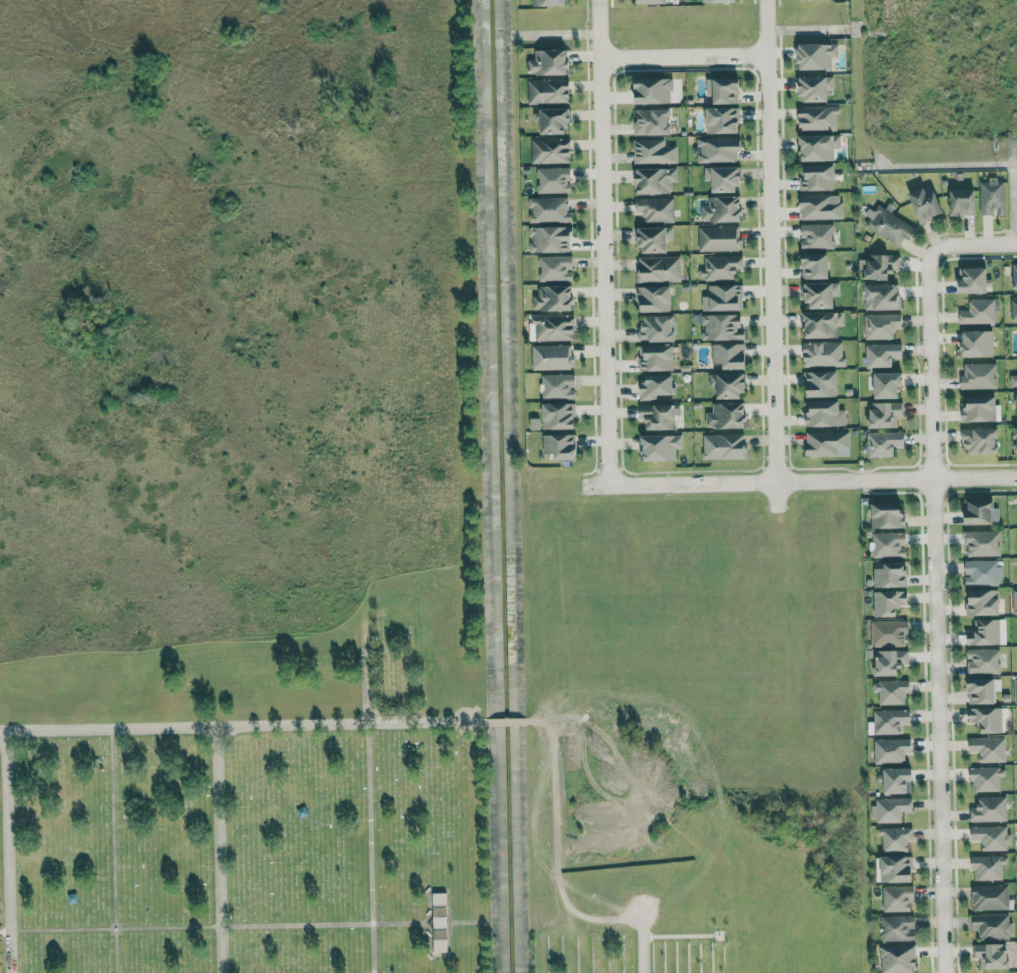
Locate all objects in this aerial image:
building: (718, 1)
building: (649, 2)
building: (549, 3)
building: (816, 56)
road: (682, 57)
building: (548, 63)
building: (815, 89)
building: (548, 91)
building: (652, 91)
building: (723, 91)
building: (818, 118)
building: (552, 121)
building: (722, 121)
building: (652, 122)
building: (818, 146)
building: (718, 149)
building: (550, 151)
building: (653, 152)
building: (816, 176)
building: (722, 177)
building: (553, 179)
building: (655, 179)
building: (992, 196)
building: (962, 201)
building: (925, 202)
building: (820, 206)
building: (722, 208)
building: (549, 209)
building: (655, 209)
building: (887, 224)
building: (817, 235)
building: (550, 238)
building: (654, 238)
building: (718, 238)
road: (976, 240)
road: (602, 242)
road: (770, 254)
building: (815, 264)
building: (879, 265)
building: (720, 266)
building: (555, 267)
building: (658, 268)
building: (1014, 275)
building: (974, 279)
building: (821, 294)
building: (882, 296)
building: (553, 297)
building: (654, 297)
building: (723, 297)
building: (1013, 309)
building: (978, 311)
building: (821, 323)
building: (881, 325)
building: (721, 326)
building: (552, 327)
building: (657, 327)
building: (977, 342)
building: (823, 353)
building: (728, 354)
building: (881, 354)
building: (551, 357)
building: (655, 357)
building: (978, 375)
building: (1013, 379)
building: (821, 382)
building: (887, 383)
building: (727, 384)
building: (557, 386)
building: (656, 386)
building: (1016, 404)
building: (979, 407)
building: (824, 413)
building: (884, 413)
building: (558, 415)
building: (726, 415)
building: (1016, 439)
building: (980, 440)
building: (827, 443)
building: (883, 443)
building: (560, 445)
building: (723, 445)
building: (661, 446)
road: (800, 480)
building: (978, 512)
building: (887, 514)
building: (982, 542)
building: (888, 544)
building: (982, 572)
building: (890, 574)
building: (982, 601)
building: (1014, 601)
building: (888, 602)
road: (936, 607)
building: (889, 632)
building: (987, 632)
building: (889, 661)
building: (982, 661)
building: (1015, 689)
building: (982, 690)
building: (891, 691)
building: (986, 718)
building: (889, 720)
road: (506, 723)
road: (232, 729)
road: (4, 734)
road: (8, 747)
building: (988, 748)
building: (890, 750)
building: (986, 778)
building: (895, 779)
park: (257, 795)
building: (890, 809)
building: (989, 809)
building: (991, 837)
building: (894, 838)
building: (988, 866)
building: (896, 868)
road: (560, 870)
park: (668, 877)
building: (989, 897)
building: (897, 898)
building: (439, 924)
building: (992, 925)
building: (897, 928)
building: (992, 955)
building: (897, 958)

